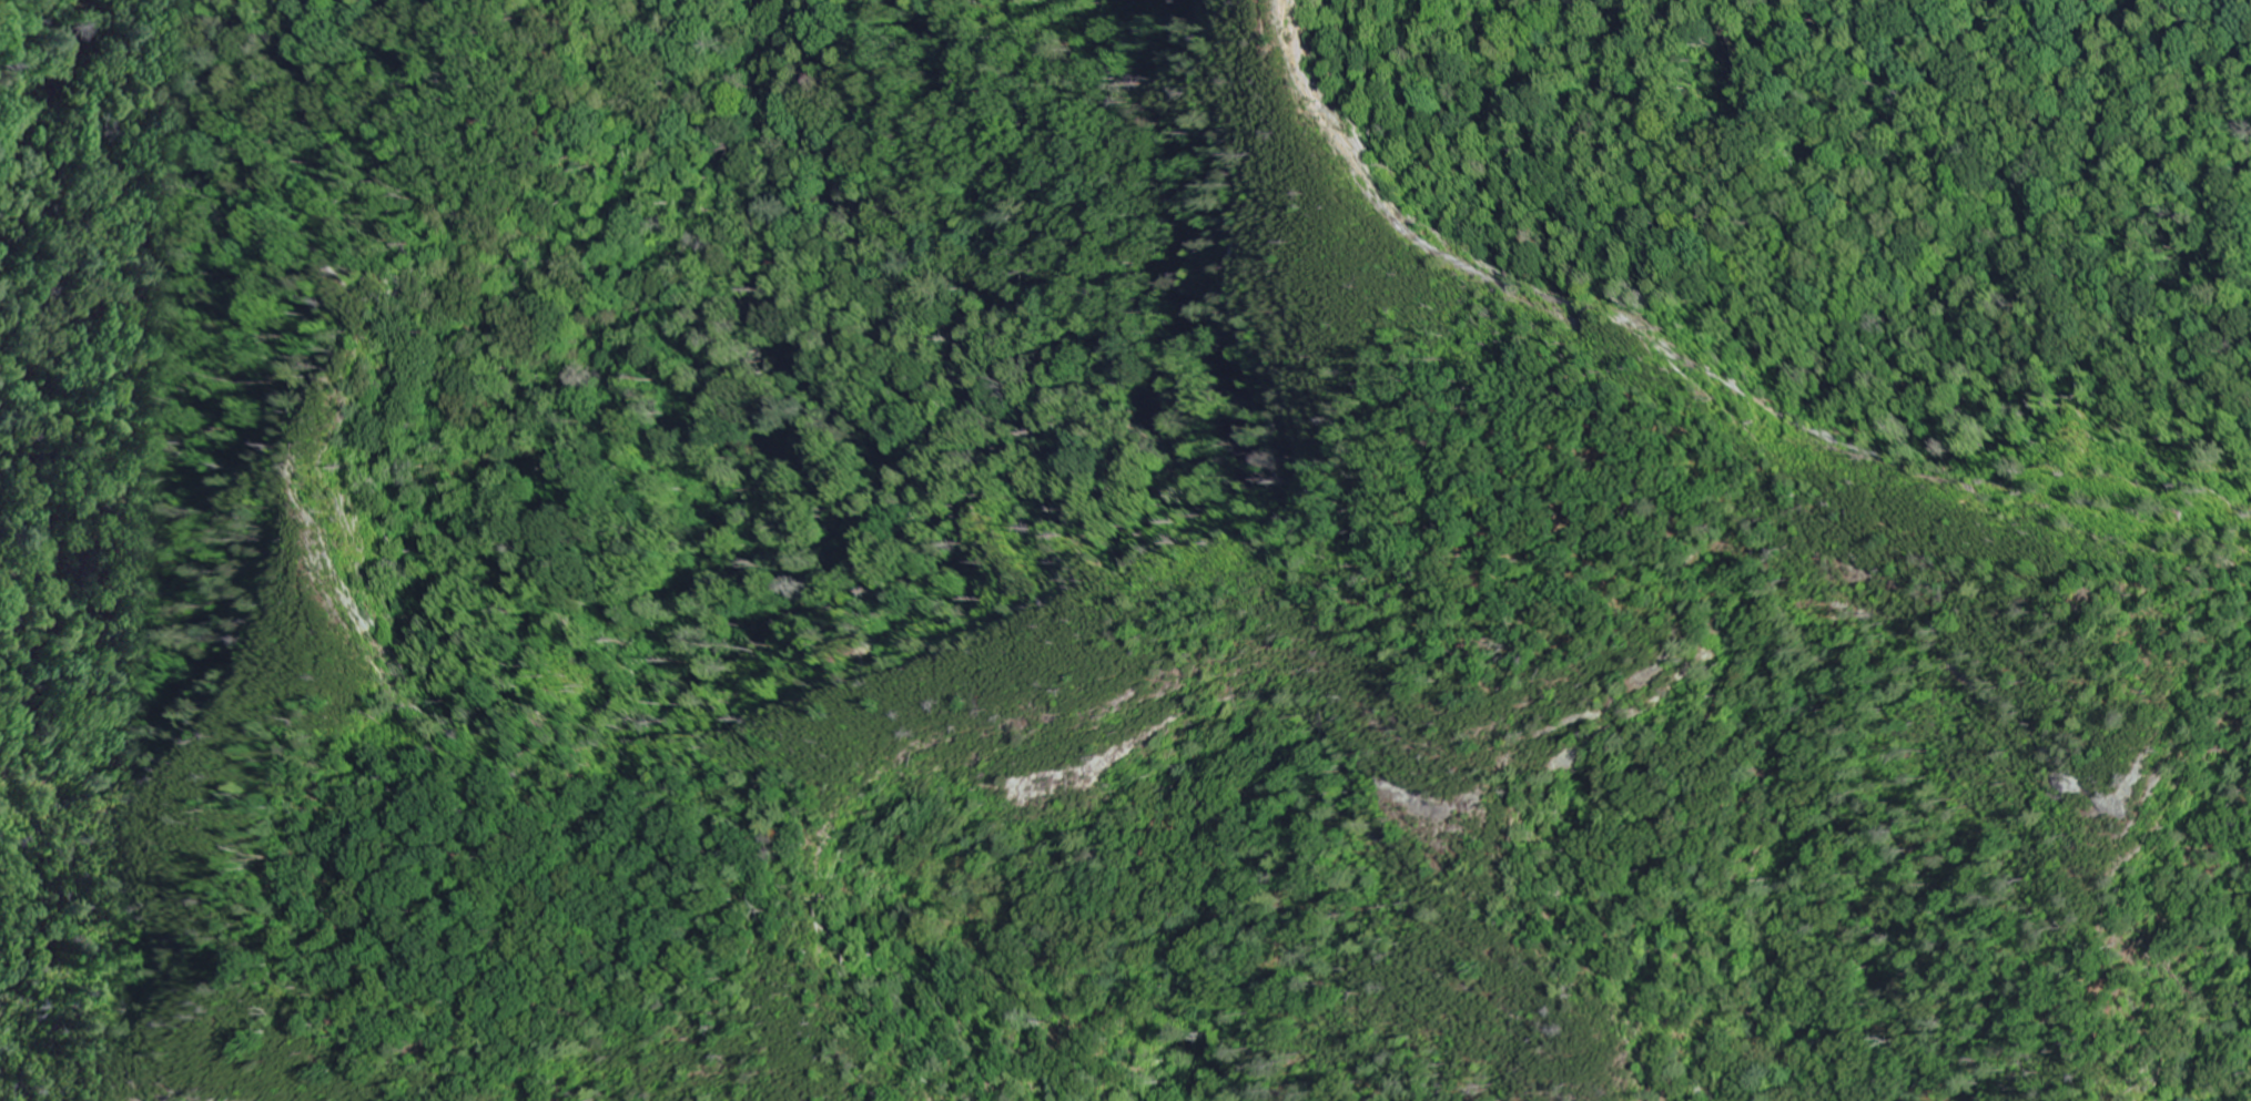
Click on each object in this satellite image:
road: (1358, 249)
road: (1461, 582)
road: (1274, 598)
road: (468, 897)
road: (296, 988)

